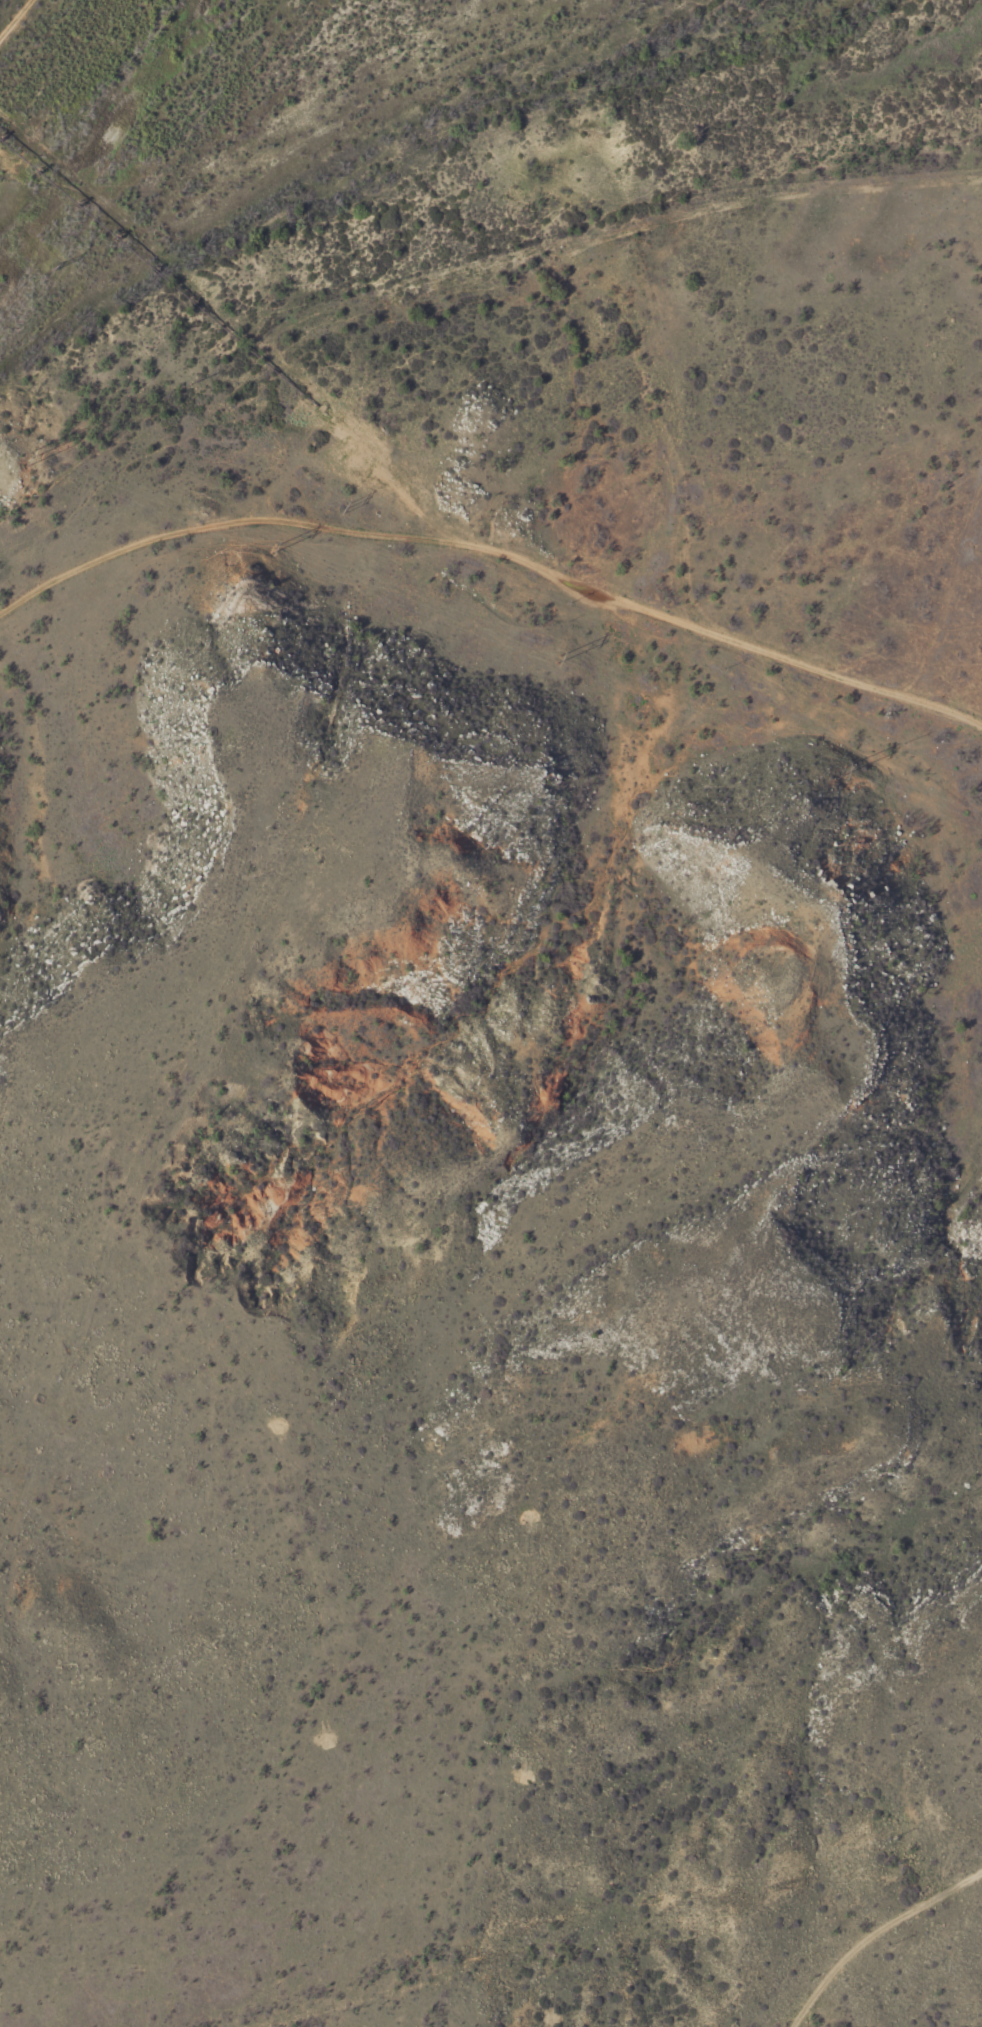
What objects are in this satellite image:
river: (93, 144)
power tower: (31, 458)
power tower: (273, 548)
power tower: (557, 658)
power tower: (842, 772)

